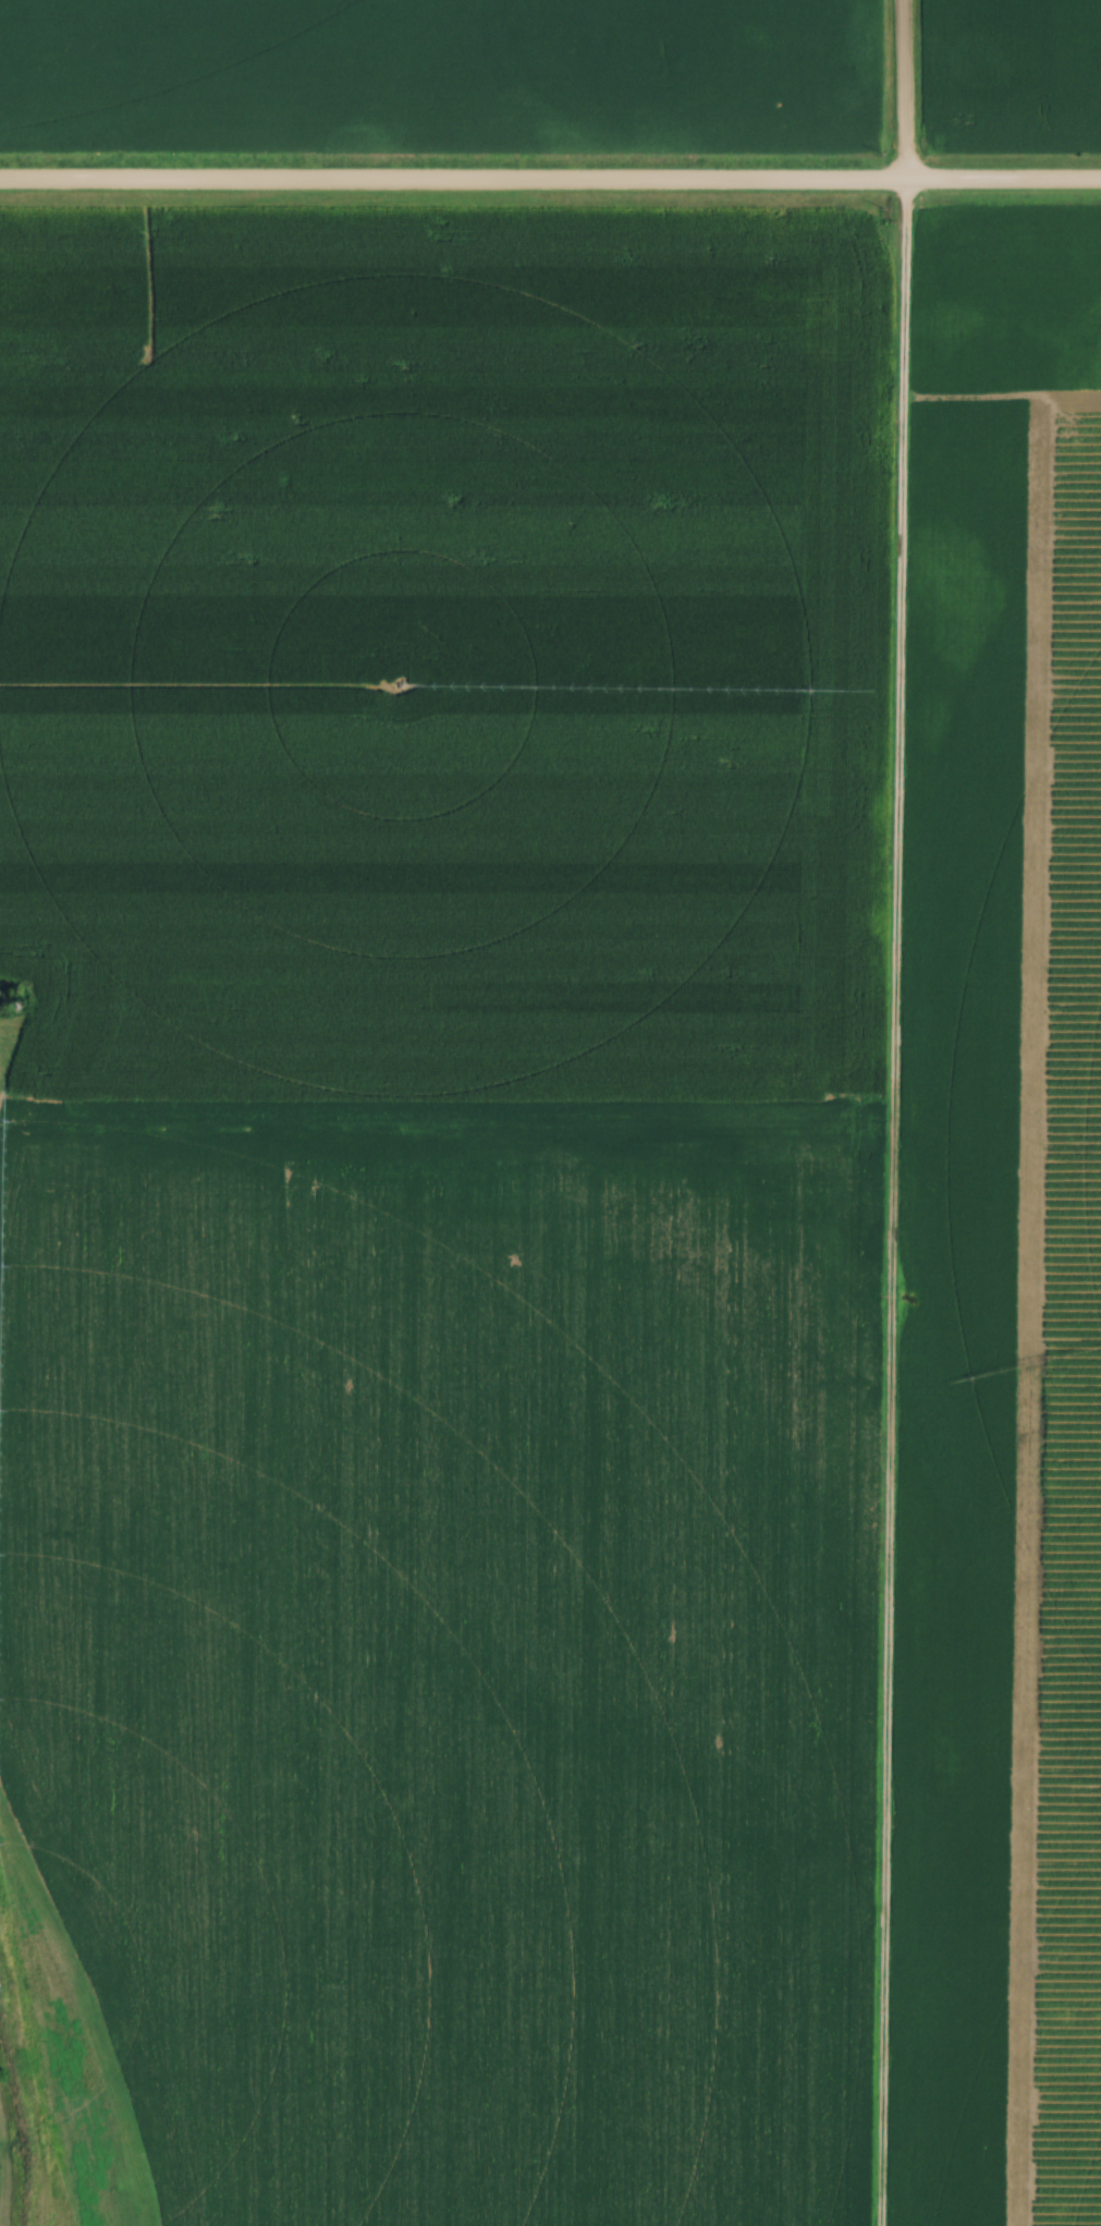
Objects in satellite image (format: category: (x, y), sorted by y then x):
road: (903, 92)
road: (550, 183)

